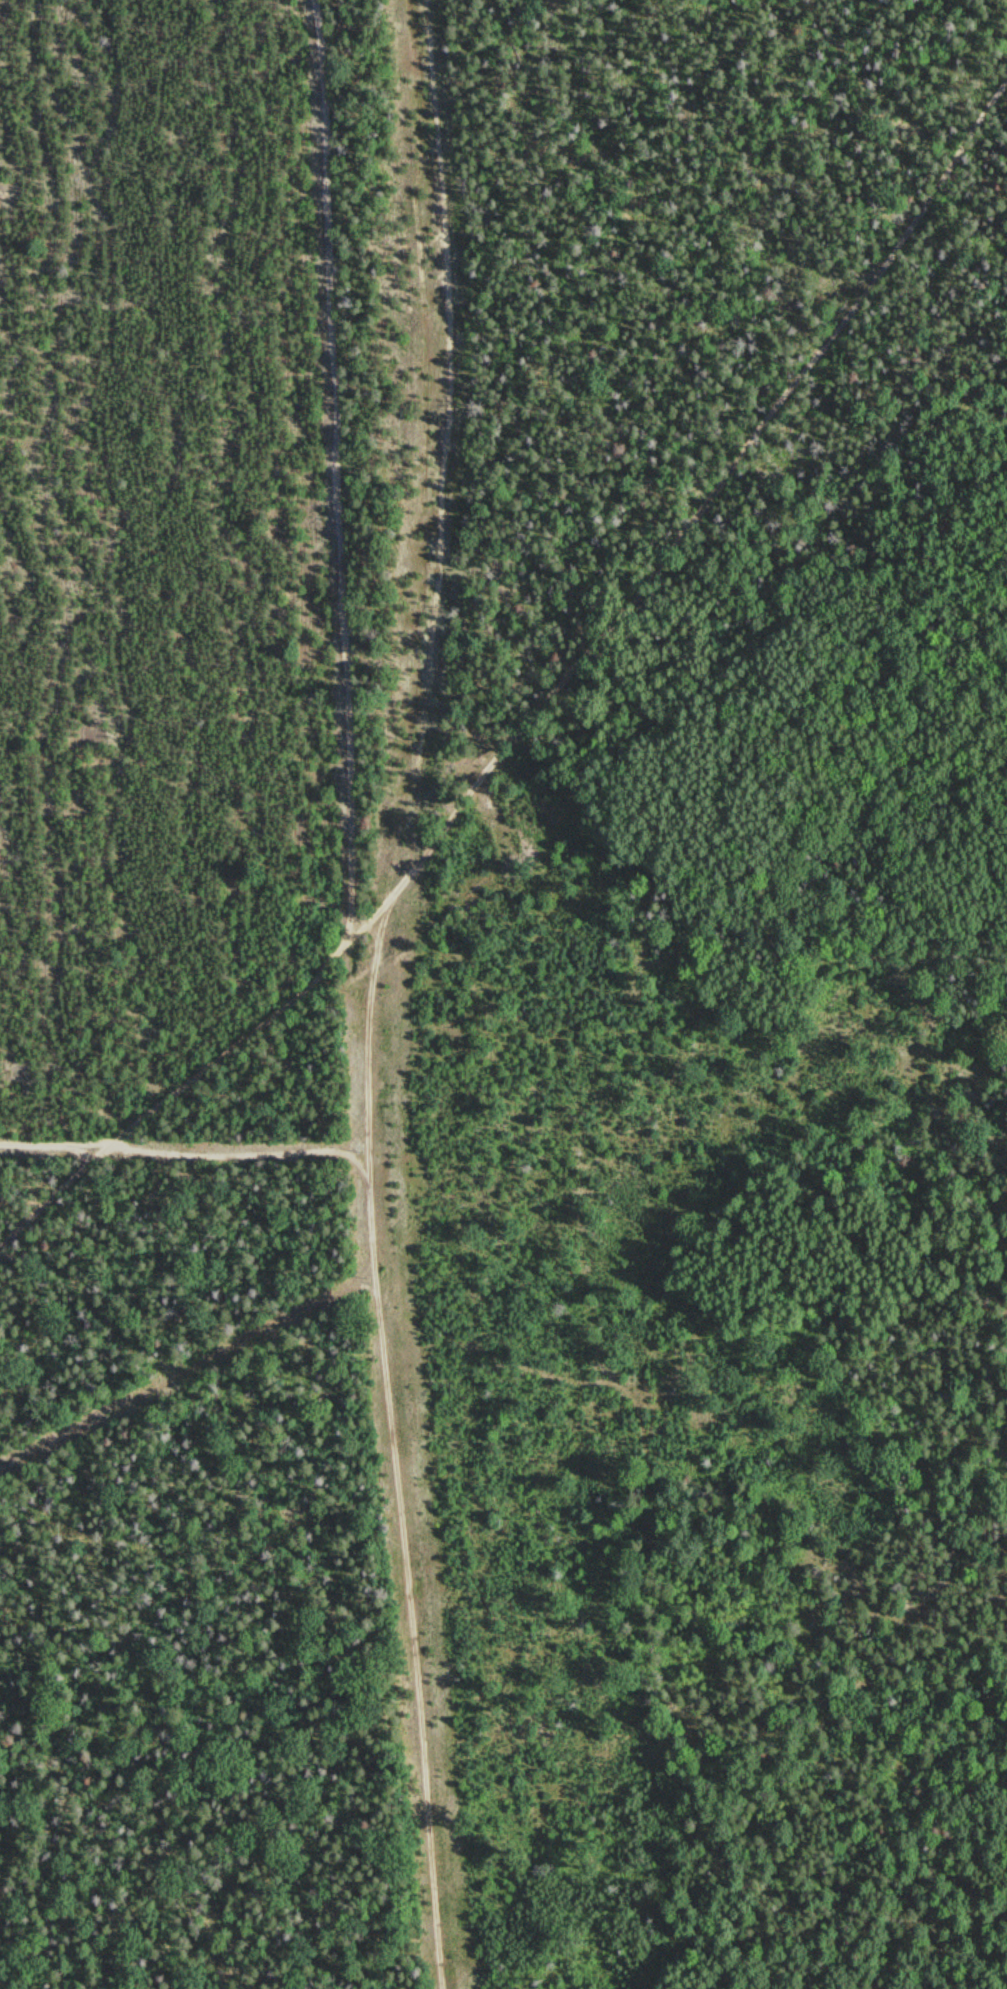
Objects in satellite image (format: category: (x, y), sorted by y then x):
road: (447, 439)
road: (337, 470)
road: (693, 524)
road: (234, 1046)
road: (55, 1141)
road: (55, 1194)
road: (394, 1446)
road: (908, 1604)

